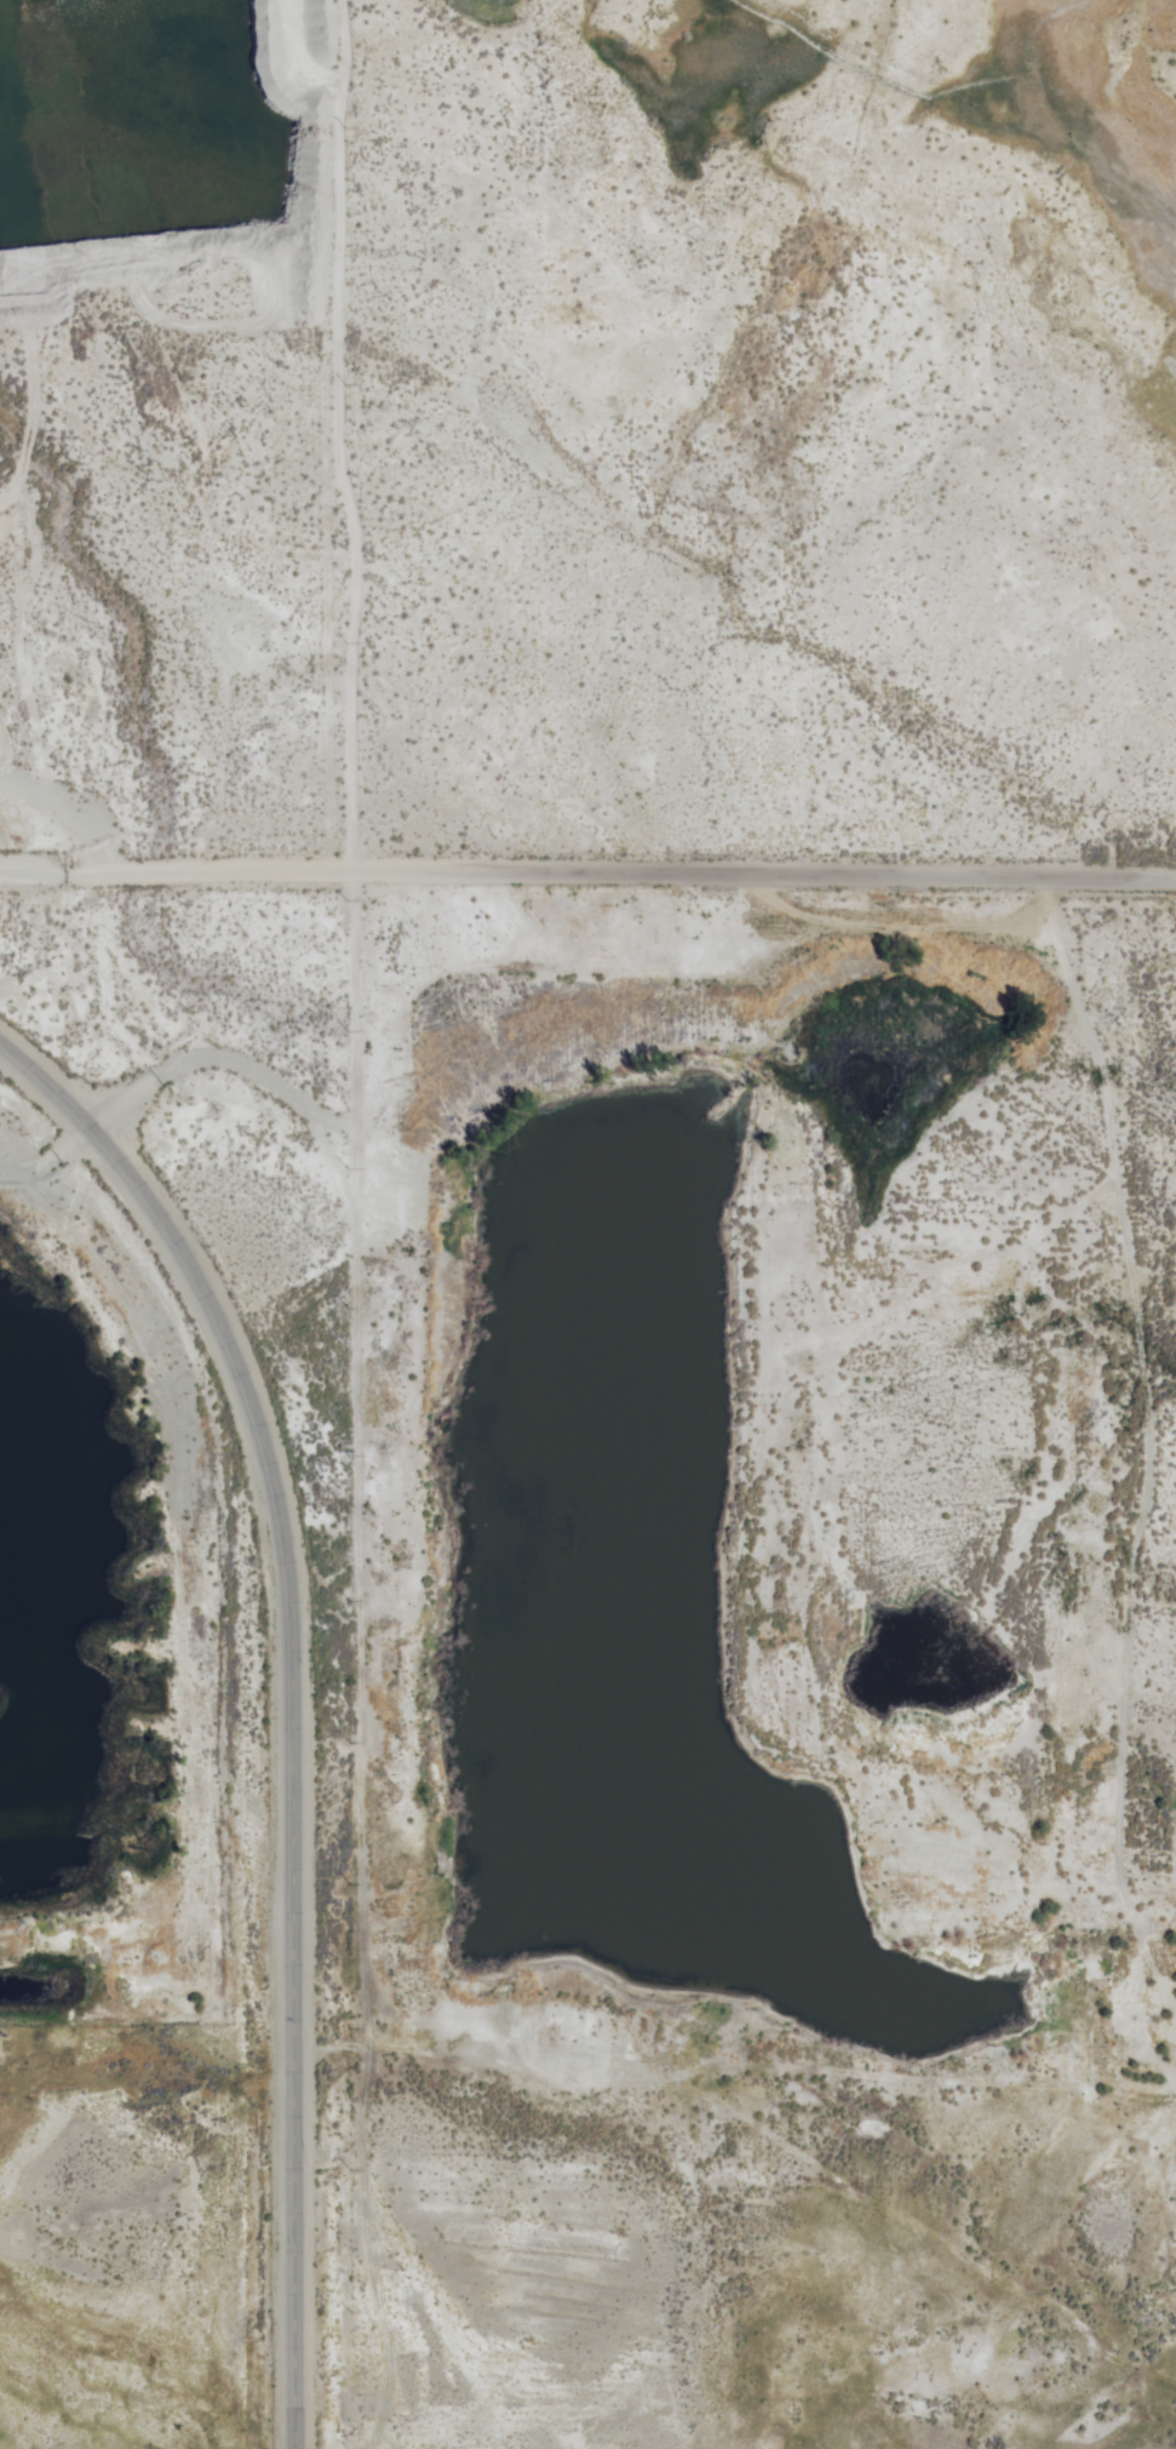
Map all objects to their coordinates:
road: (587, 870)
road: (299, 1694)

